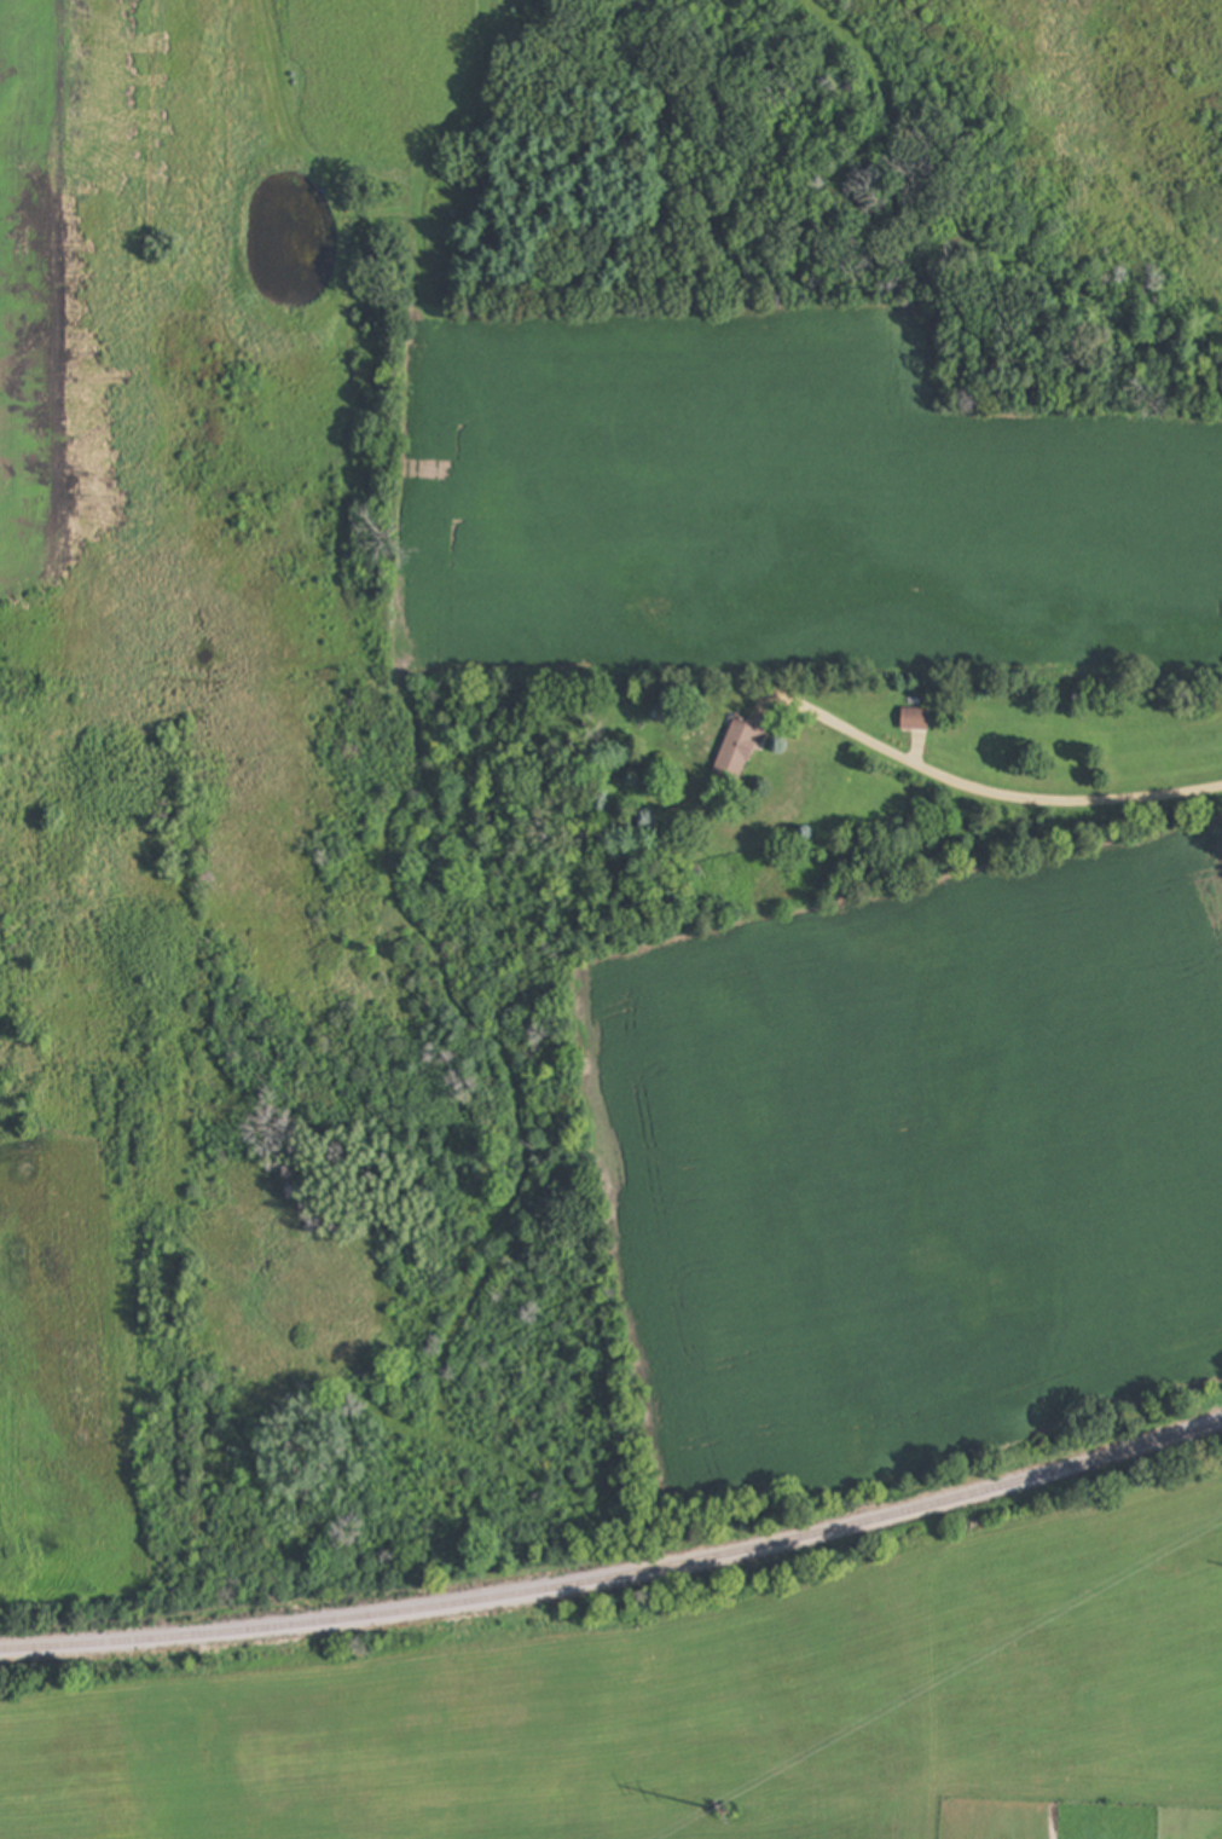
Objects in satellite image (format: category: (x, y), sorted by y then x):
building: (916, 721)
building: (740, 751)
road: (996, 796)
railway: (619, 1578)
power tower: (1094, 1699)
power tower: (739, 1821)

